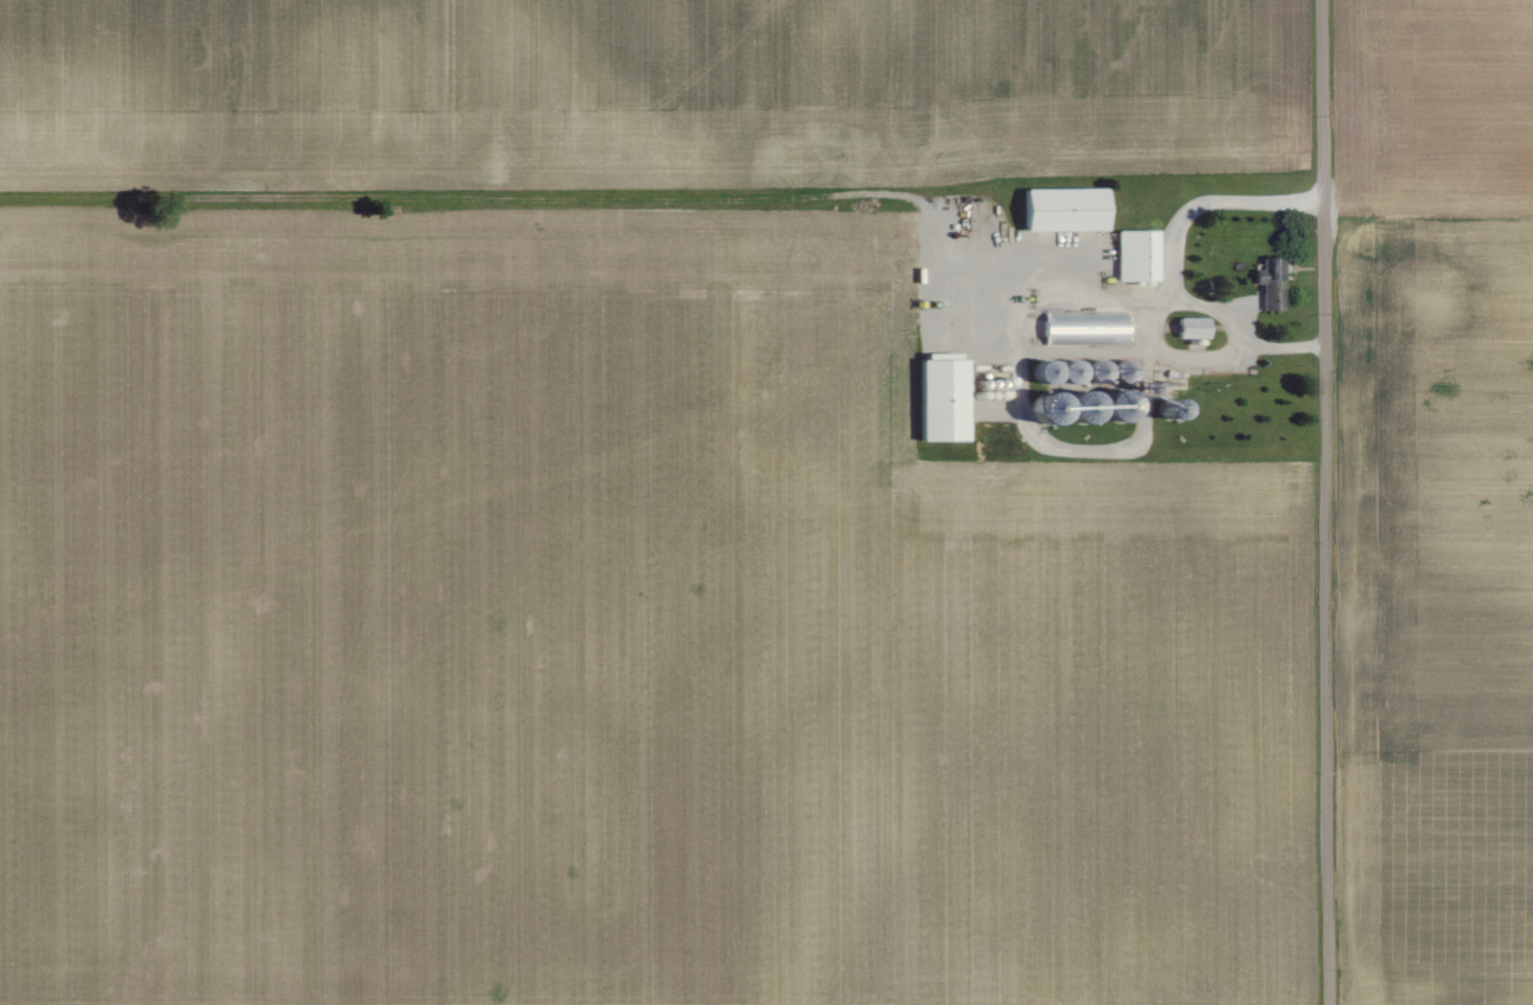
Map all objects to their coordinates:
building: (1065, 207)
building: (1137, 253)
road: (1171, 264)
road: (1306, 266)
building: (1273, 278)
building: (1192, 325)
building: (1084, 326)
silo: (1097, 369)
silo: (1124, 369)
silo: (1046, 370)
silo: (1071, 370)
silo: (1005, 379)
silo: (977, 381)
silo: (985, 381)
silo: (994, 381)
silo: (975, 392)
silo: (985, 392)
silo: (995, 392)
silo: (1005, 392)
building: (943, 398)
silo: (1082, 405)
silo: (1120, 405)
road: (1326, 502)

